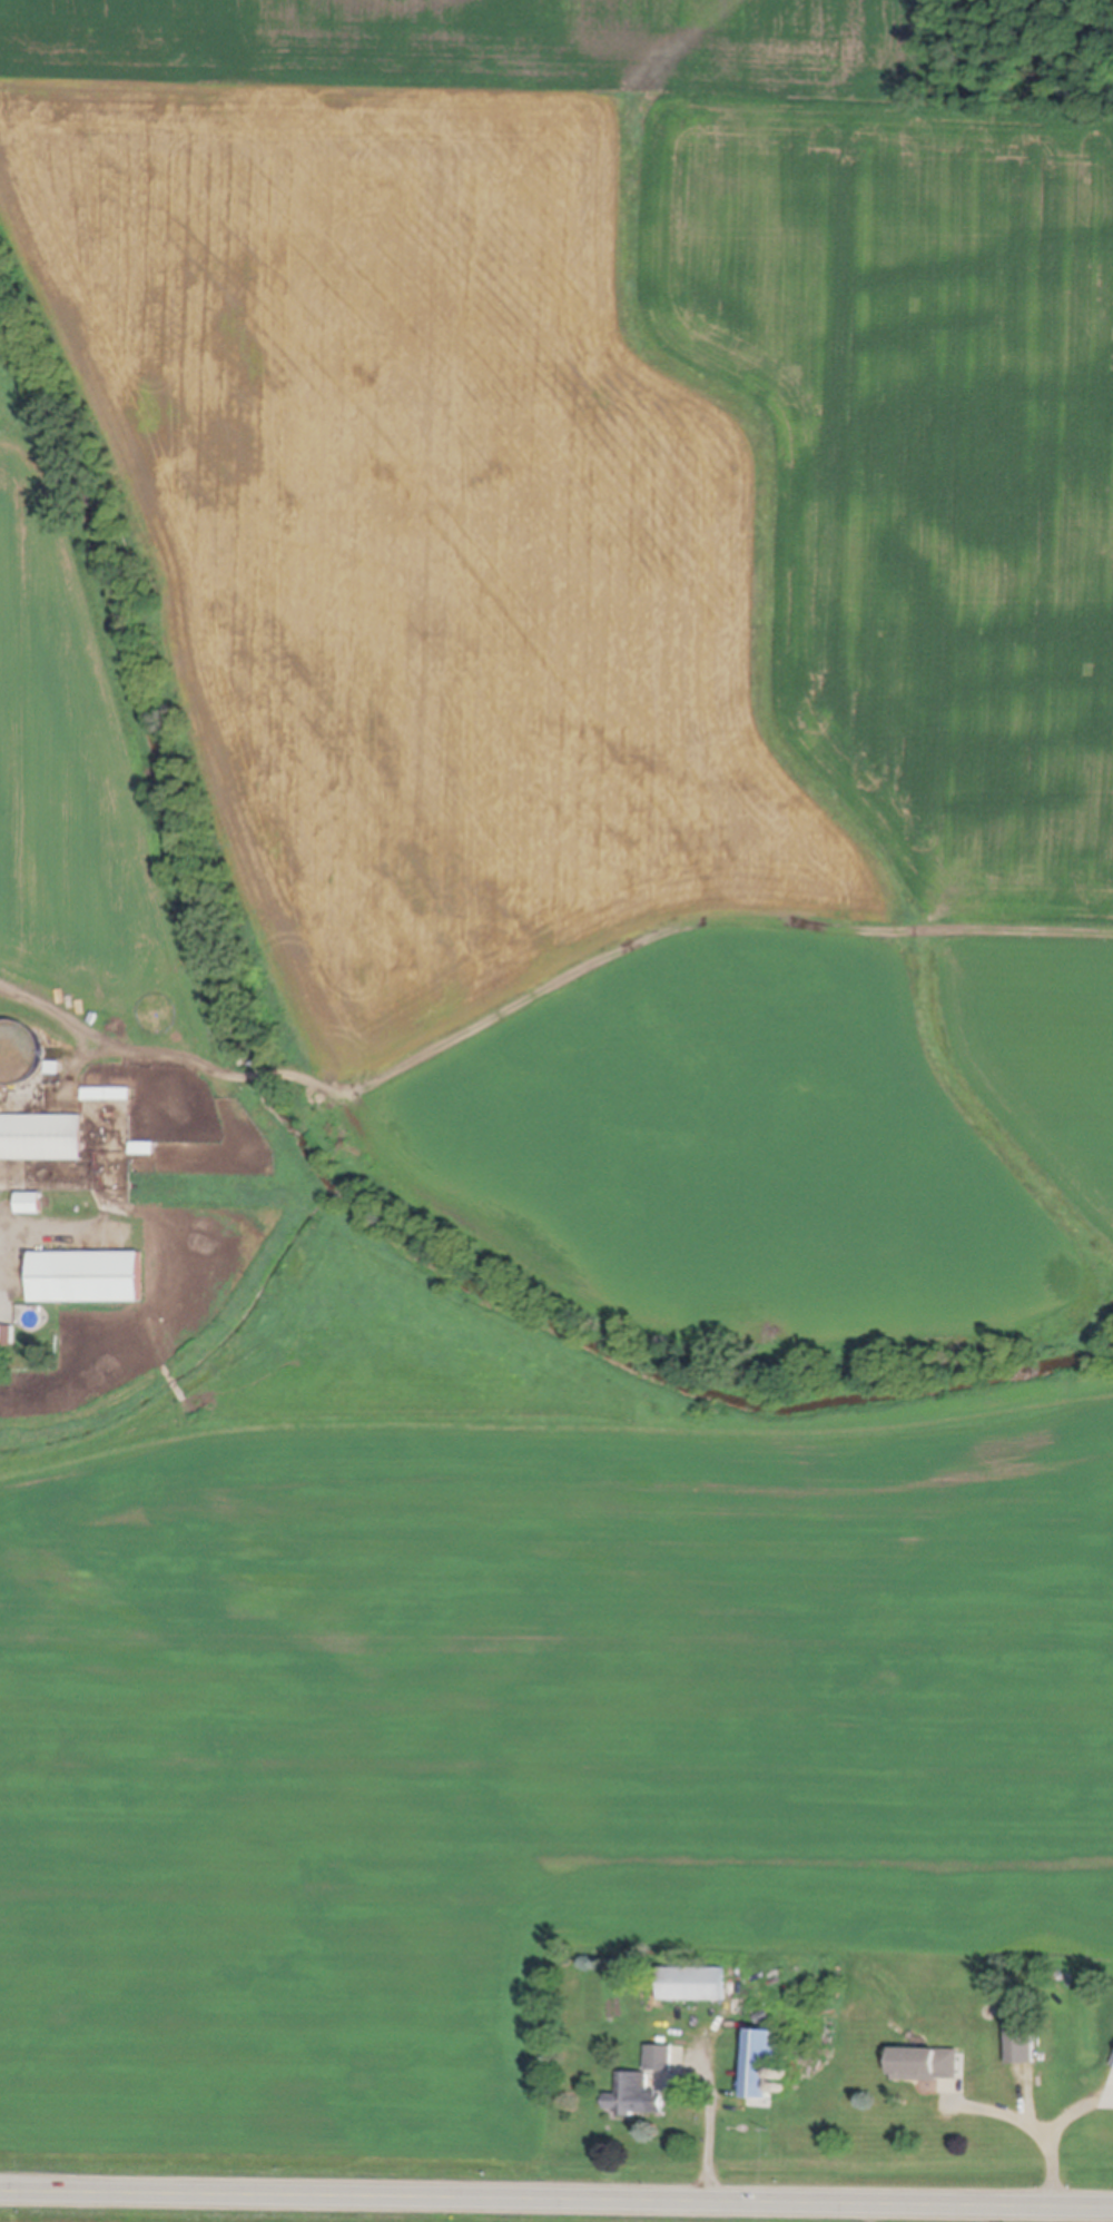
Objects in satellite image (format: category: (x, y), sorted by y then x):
building: (16, 1051)
road: (85, 1053)
building: (42, 1142)
building: (0, 1202)
building: (31, 1208)
road: (41, 1234)
building: (89, 1285)
building: (8, 1340)
building: (696, 1976)
building: (1023, 2036)
building: (765, 2051)
building: (663, 2052)
building: (927, 2057)
building: (1111, 2063)
building: (787, 2070)
building: (781, 2084)
building: (752, 2086)
building: (638, 2090)
road: (719, 2130)
road: (1053, 2134)
road: (555, 2203)

